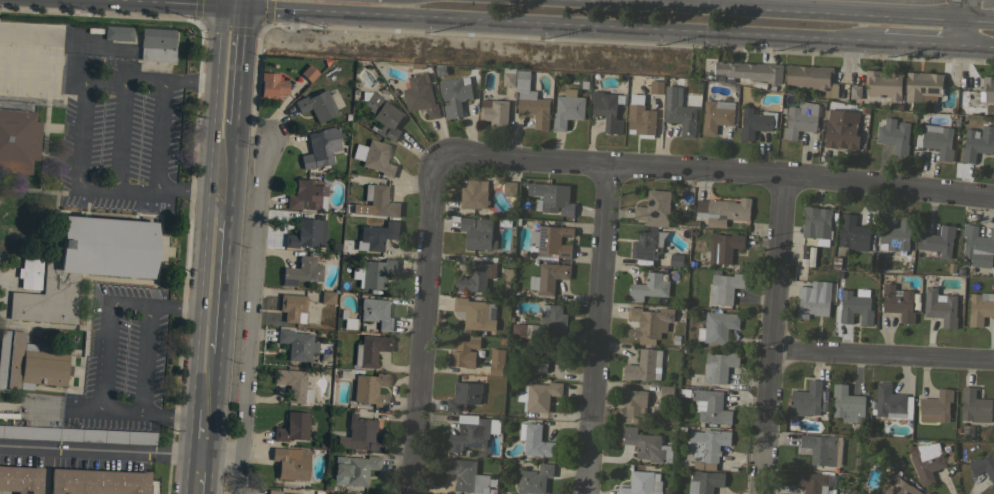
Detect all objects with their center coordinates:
road: (193, 2)
traffic signals: (237, 5)
road: (765, 10)
road: (963, 10)
road: (978, 21)
road: (560, 22)
building: (117, 32)
road: (962, 32)
road: (47, 37)
road: (922, 42)
road: (234, 43)
road: (977, 44)
building: (156, 45)
building: (118, 51)
building: (747, 71)
building: (308, 73)
building: (508, 76)
building: (812, 77)
road: (157, 80)
building: (884, 83)
building: (272, 84)
building: (923, 86)
building: (656, 87)
building: (987, 89)
building: (455, 94)
building: (420, 95)
building: (531, 100)
road: (231, 105)
building: (316, 105)
building: (567, 110)
building: (606, 110)
building: (494, 111)
building: (383, 115)
building: (640, 115)
building: (716, 115)
building: (681, 117)
road: (81, 119)
building: (800, 119)
building: (755, 122)
building: (841, 129)
road: (121, 133)
road: (156, 135)
building: (894, 135)
building: (936, 139)
building: (18, 140)
building: (977, 142)
building: (321, 147)
building: (374, 156)
road: (714, 169)
building: (509, 188)
road: (154, 190)
building: (474, 194)
building: (307, 195)
building: (551, 197)
building: (380, 201)
building: (655, 208)
building: (723, 210)
road: (223, 220)
building: (816, 222)
building: (306, 233)
building: (477, 233)
building: (853, 233)
building: (376, 235)
building: (893, 235)
building: (938, 241)
building: (550, 242)
building: (646, 244)
building: (724, 246)
building: (978, 246)
building: (808, 256)
building: (676, 259)
building: (85, 265)
road: (254, 267)
building: (301, 271)
building: (372, 272)
building: (29, 273)
building: (477, 274)
rooftop solar panel: (310, 276)
building: (548, 277)
rooftop solar panel: (286, 280)
building: (649, 287)
building: (724, 287)
building: (327, 297)
building: (814, 299)
building: (898, 302)
road: (158, 304)
building: (855, 306)
building: (940, 306)
building: (292, 307)
building: (980, 308)
building: (376, 313)
building: (476, 313)
building: (346, 319)
road: (422, 323)
building: (649, 323)
building: (544, 324)
building: (717, 327)
road: (599, 328)
road: (211, 334)
road: (776, 334)
building: (296, 344)
building: (369, 350)
building: (465, 352)
road: (884, 355)
building: (542, 357)
building: (496, 361)
building: (28, 363)
building: (645, 365)
building: (719, 366)
road: (207, 379)
building: (293, 385)
building: (369, 389)
building: (666, 392)
building: (540, 393)
building: (465, 397)
building: (633, 400)
building: (806, 400)
building: (892, 402)
building: (847, 404)
road: (97, 406)
building: (712, 406)
building: (974, 406)
building: (936, 407)
road: (204, 412)
building: (292, 426)
building: (76, 434)
building: (359, 434)
building: (472, 434)
road: (201, 436)
building: (535, 440)
rooftop solar panel: (474, 444)
building: (646, 445)
rooftop solar panel: (455, 447)
building: (705, 448)
road: (99, 449)
building: (820, 449)
road: (238, 450)
road: (218, 457)
building: (927, 461)
building: (291, 463)
building: (984, 466)
building: (353, 469)
road: (197, 474)
building: (467, 475)
building: (21, 479)
building: (534, 479)
building: (97, 482)
building: (704, 482)
building: (811, 482)
rooftop solar panel: (888, 482)
building: (642, 483)
building: (897, 486)
rooftop solar panel: (893, 489)
building: (275, 492)

